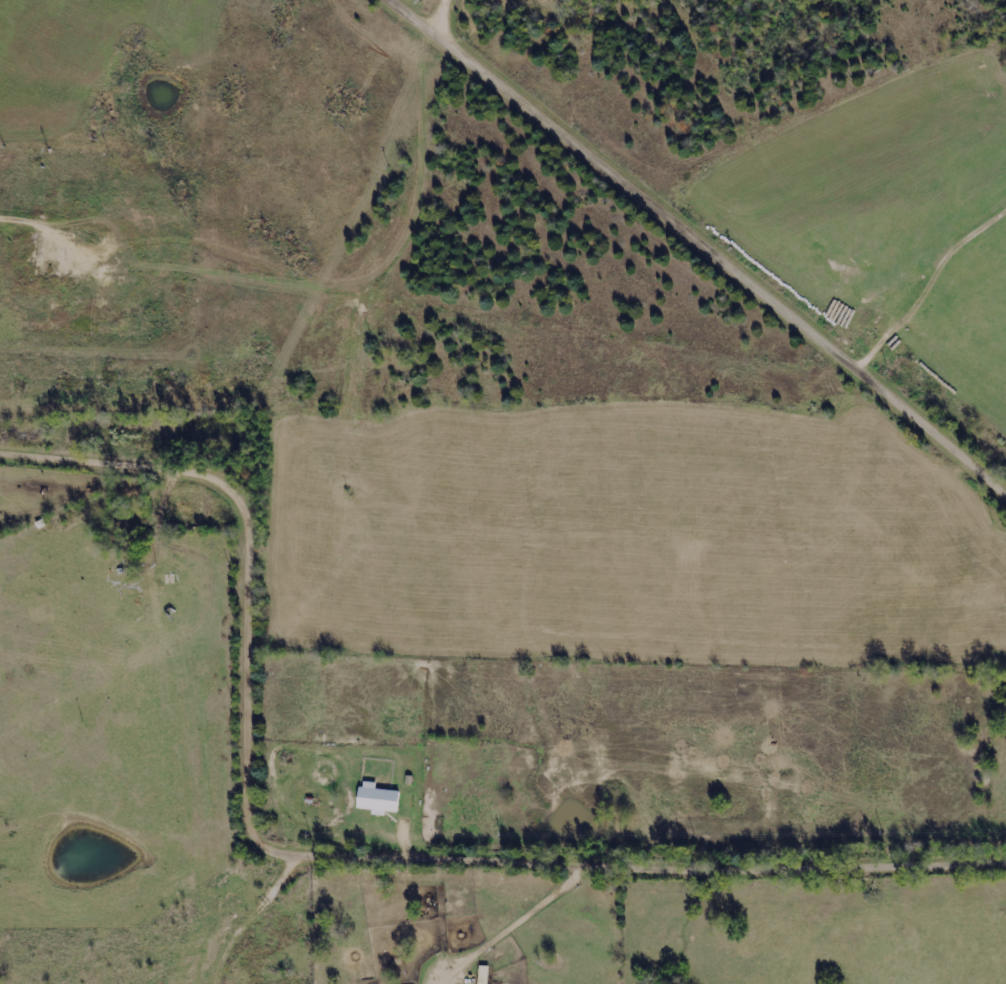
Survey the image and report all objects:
road: (697, 245)
building: (381, 799)
road: (334, 859)
road: (279, 921)
building: (486, 975)

